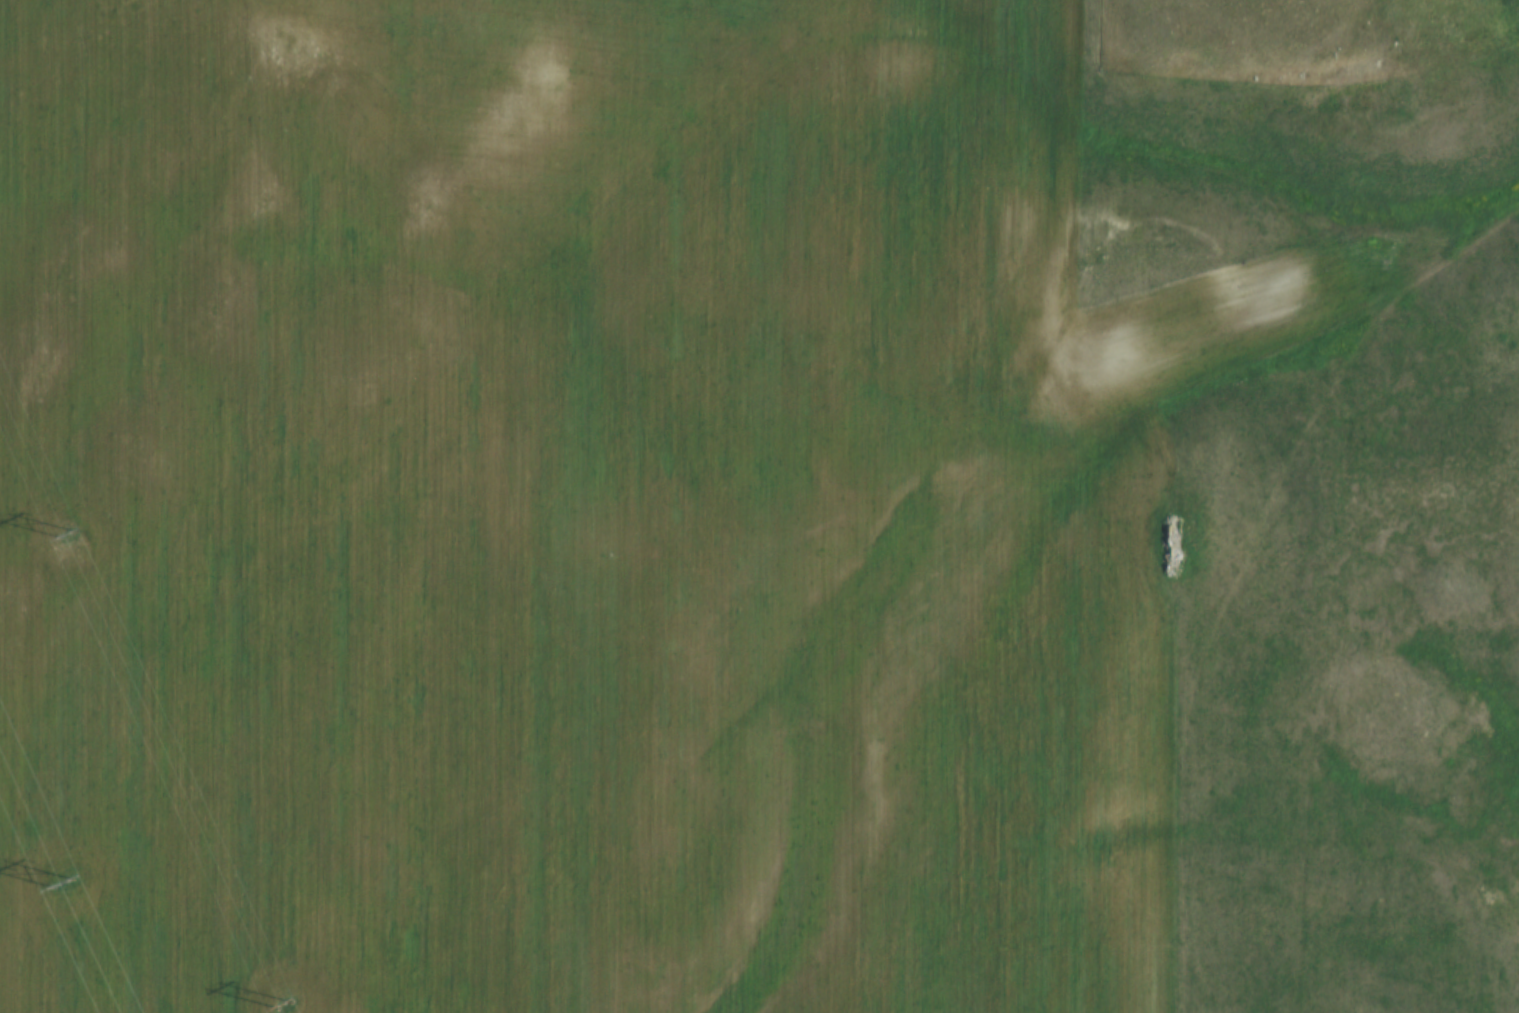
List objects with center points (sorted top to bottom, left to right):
road: (1185, 503)
power tower: (59, 540)

